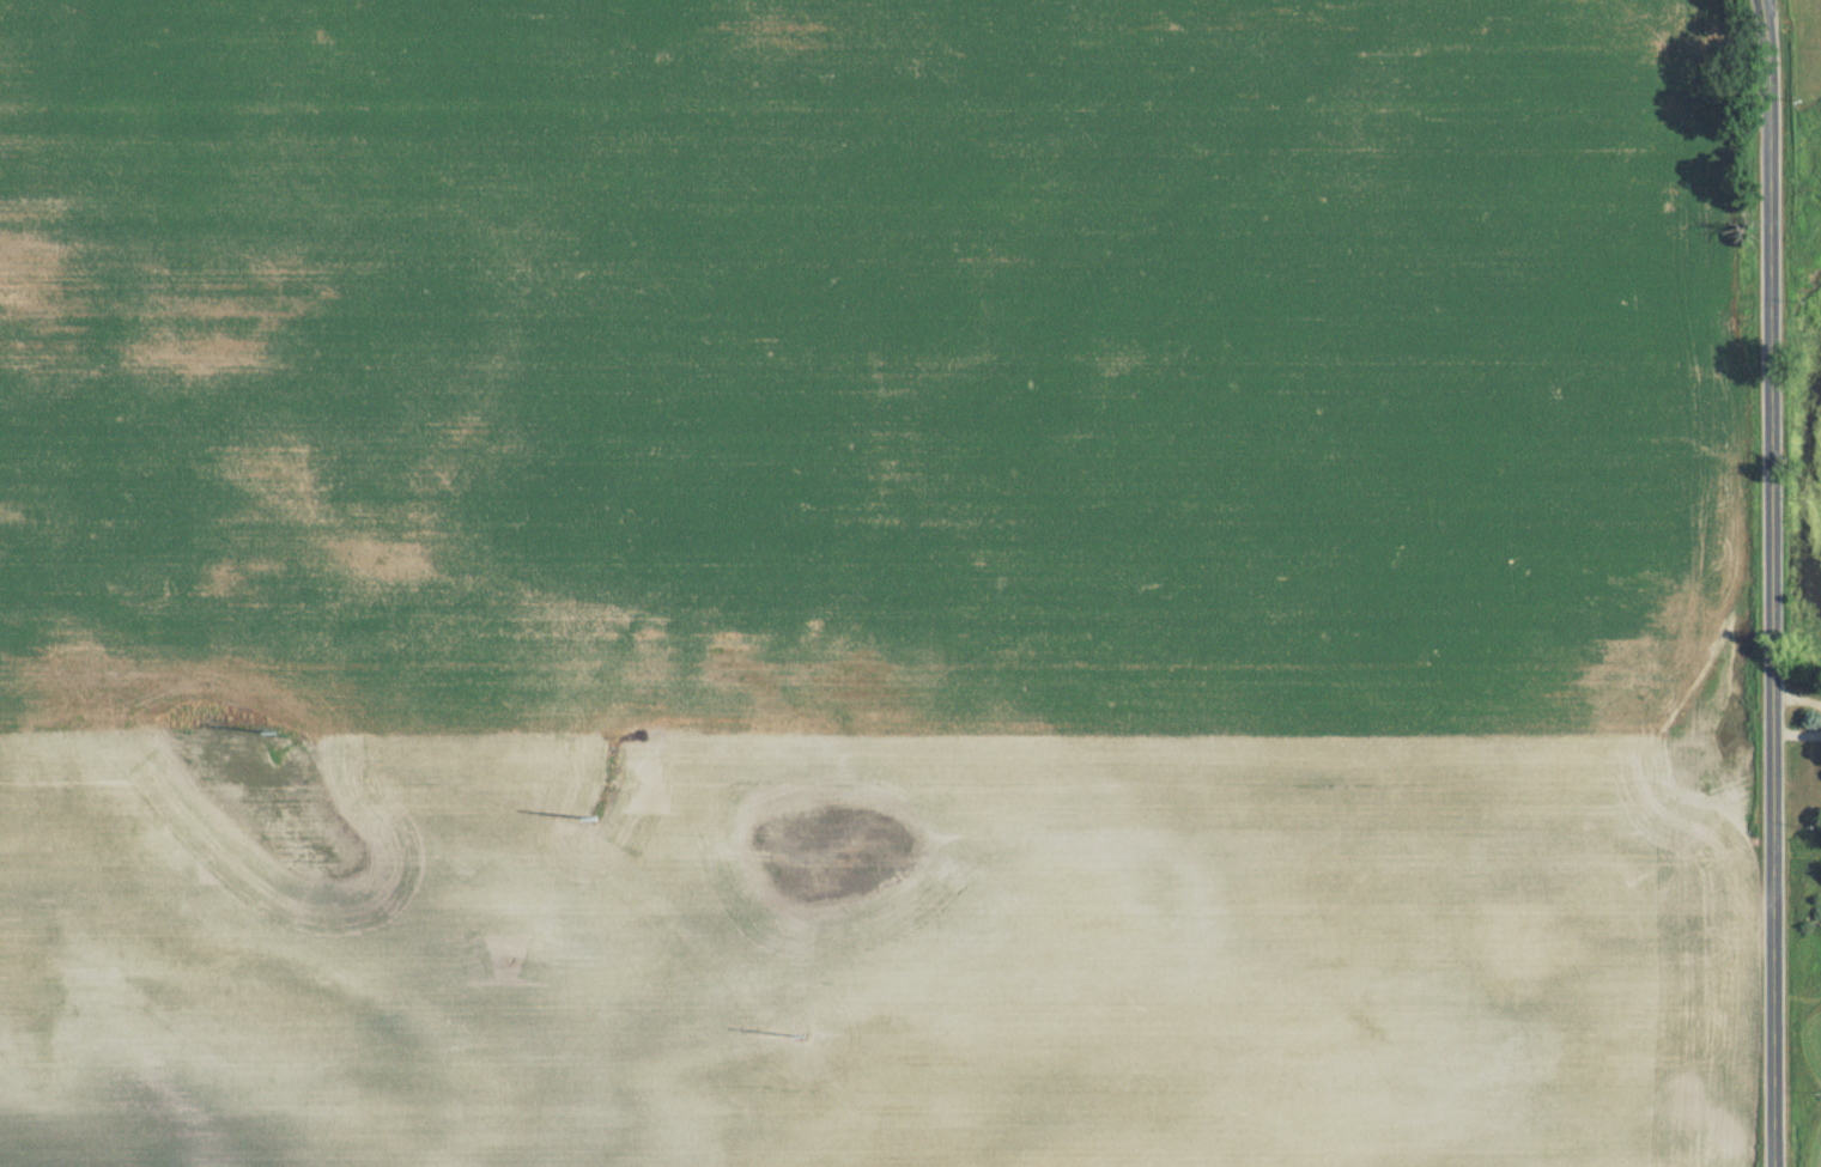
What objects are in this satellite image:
road: (1768, 583)
road: (1796, 699)
road: (1795, 736)

